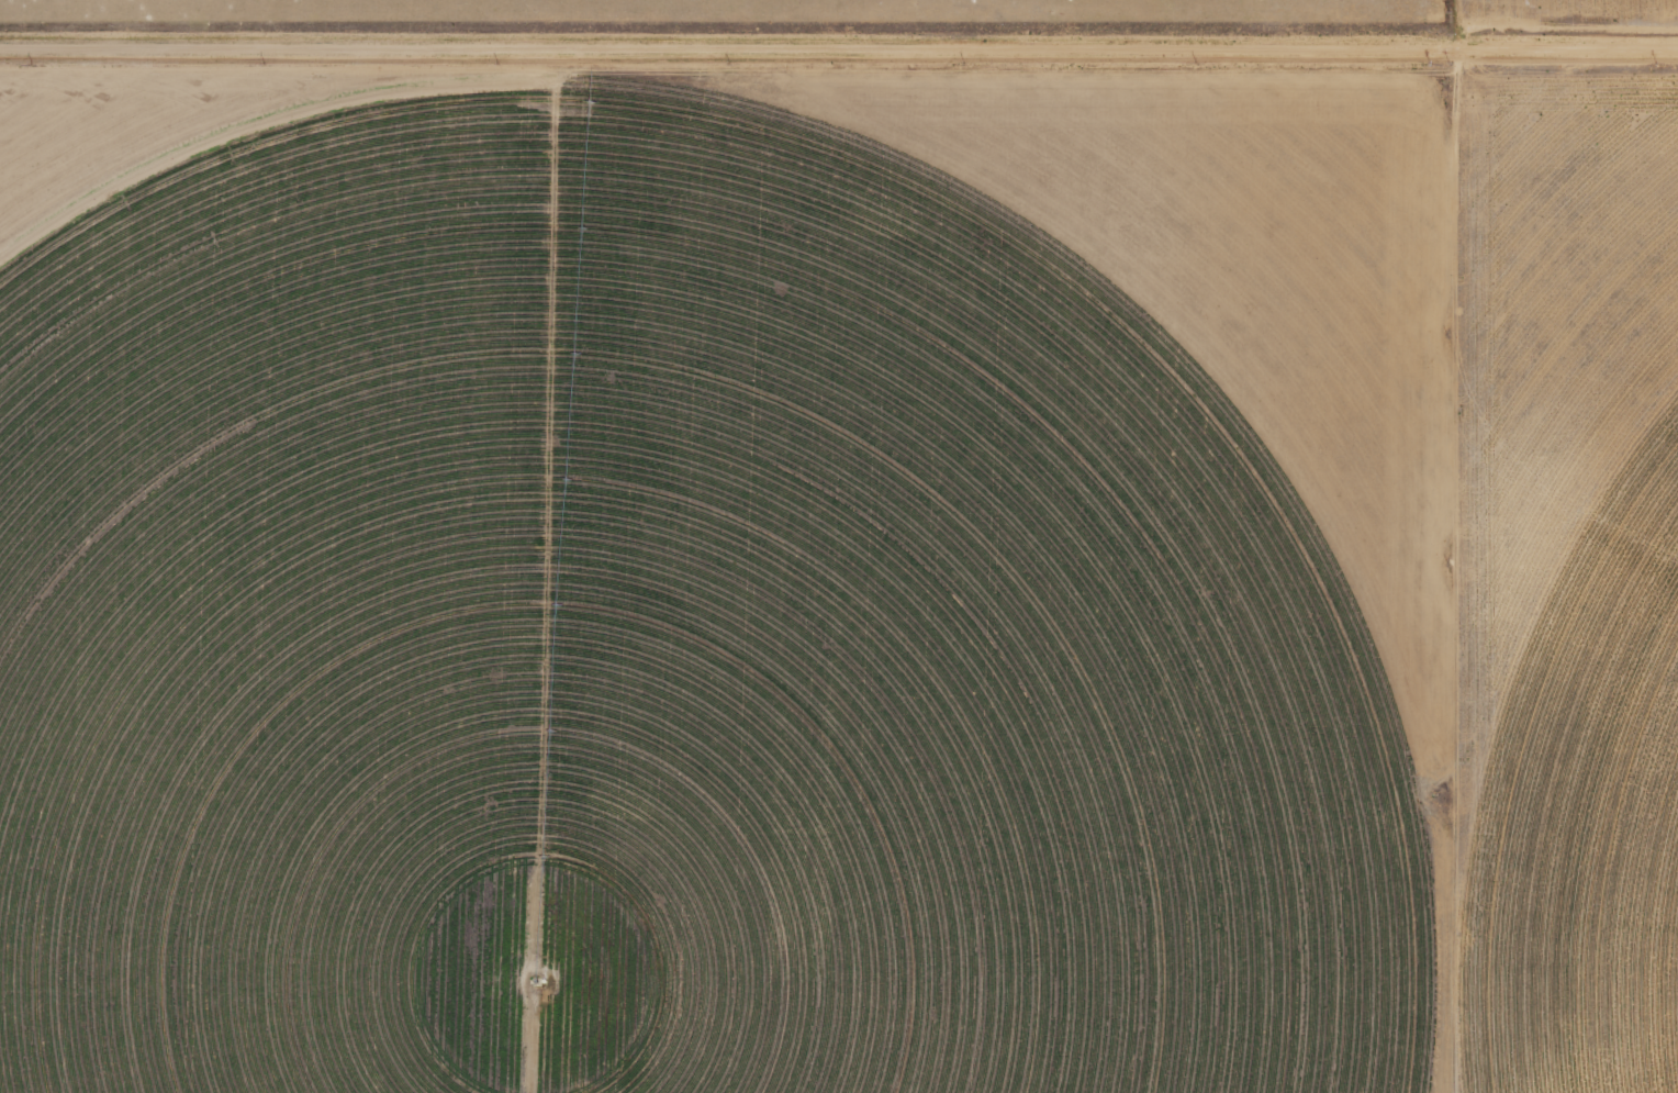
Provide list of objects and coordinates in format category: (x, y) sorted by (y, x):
road: (839, 51)

